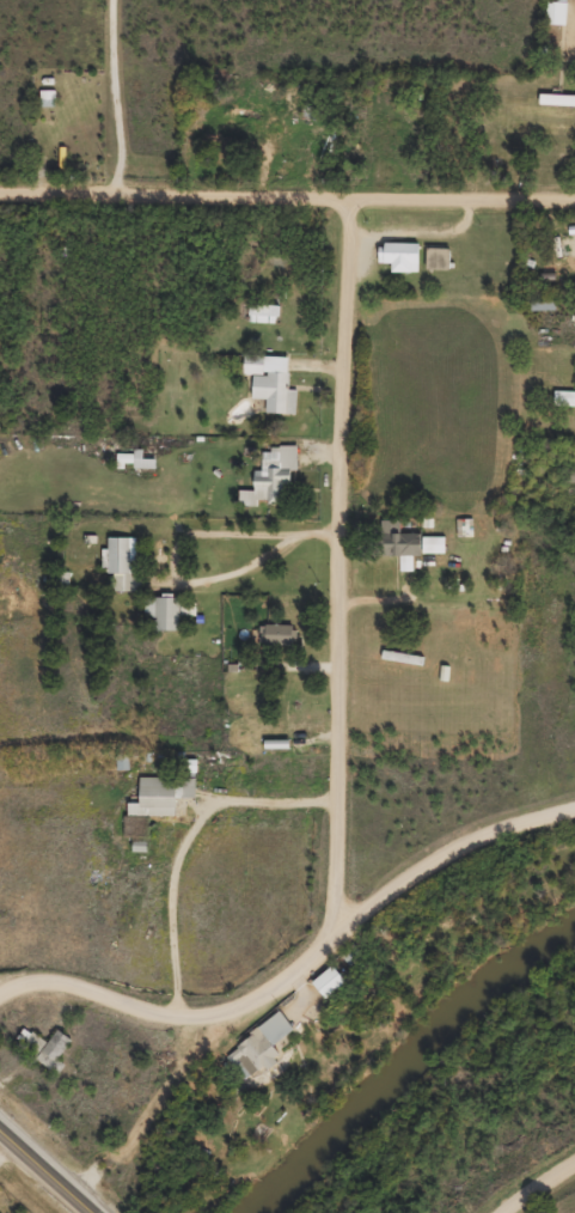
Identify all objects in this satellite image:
building: (553, 22)
road: (116, 97)
building: (556, 108)
road: (287, 193)
building: (397, 266)
building: (435, 267)
building: (540, 313)
building: (261, 322)
building: (269, 391)
building: (563, 407)
building: (134, 468)
building: (269, 486)
building: (460, 536)
building: (397, 553)
building: (430, 553)
road: (338, 562)
building: (118, 571)
building: (159, 622)
building: (273, 644)
building: (188, 776)
building: (158, 805)
road: (300, 964)
building: (326, 989)
building: (256, 1056)
river: (405, 1059)
building: (51, 1060)
road: (45, 1171)
road: (537, 1191)

